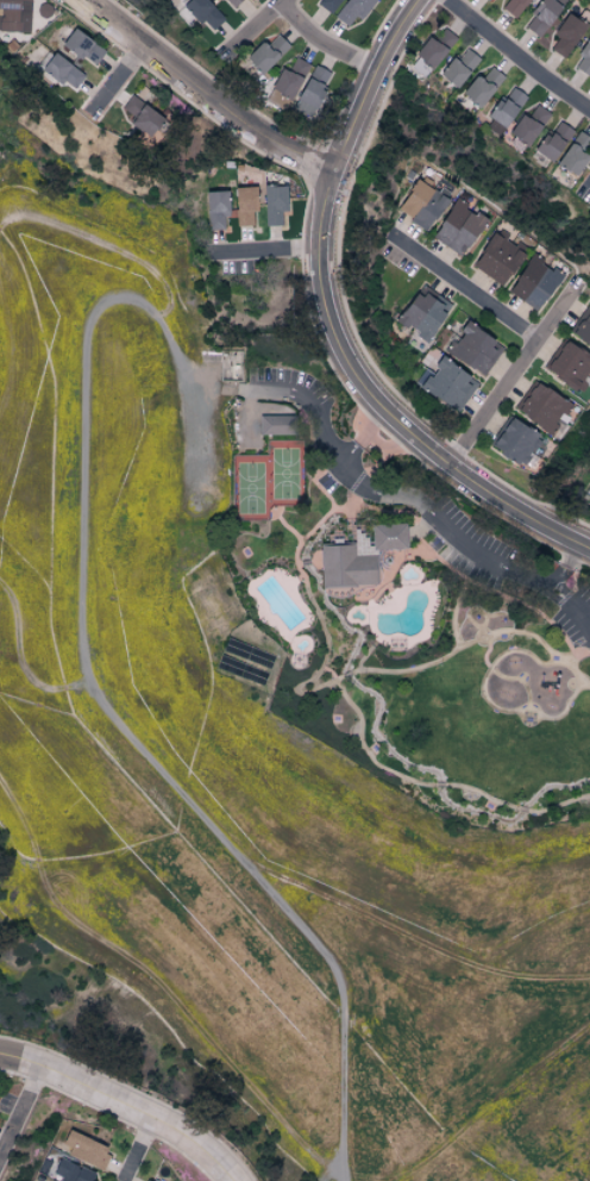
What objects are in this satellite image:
building: (487, 0)
building: (231, 2)
building: (514, 7)
building: (352, 10)
building: (203, 12)
building: (544, 14)
building: (14, 15)
road: (258, 24)
building: (566, 36)
road: (325, 42)
building: (82, 46)
building: (266, 54)
building: (429, 54)
road: (516, 57)
building: (584, 57)
building: (459, 67)
building: (62, 71)
building: (289, 79)
building: (481, 87)
building: (310, 90)
road: (201, 93)
building: (277, 100)
building: (503, 112)
building: (140, 115)
building: (527, 126)
building: (552, 143)
building: (575, 154)
road: (586, 193)
building: (422, 204)
building: (274, 205)
building: (244, 206)
building: (215, 210)
building: (457, 227)
road: (262, 249)
building: (498, 257)
building: (534, 283)
road: (307, 285)
road: (463, 286)
building: (422, 313)
road: (329, 326)
building: (583, 331)
building: (473, 350)
building: (569, 365)
road: (511, 379)
building: (448, 385)
building: (542, 410)
building: (274, 425)
road: (324, 433)
building: (516, 443)
building: (388, 535)
road: (466, 545)
building: (345, 565)
road: (564, 565)
road: (86, 674)
road: (344, 699)
road: (136, 1093)
road: (123, 1106)
road: (20, 1110)
building: (86, 1150)
road: (138, 1150)
building: (71, 1171)
building: (147, 1180)

